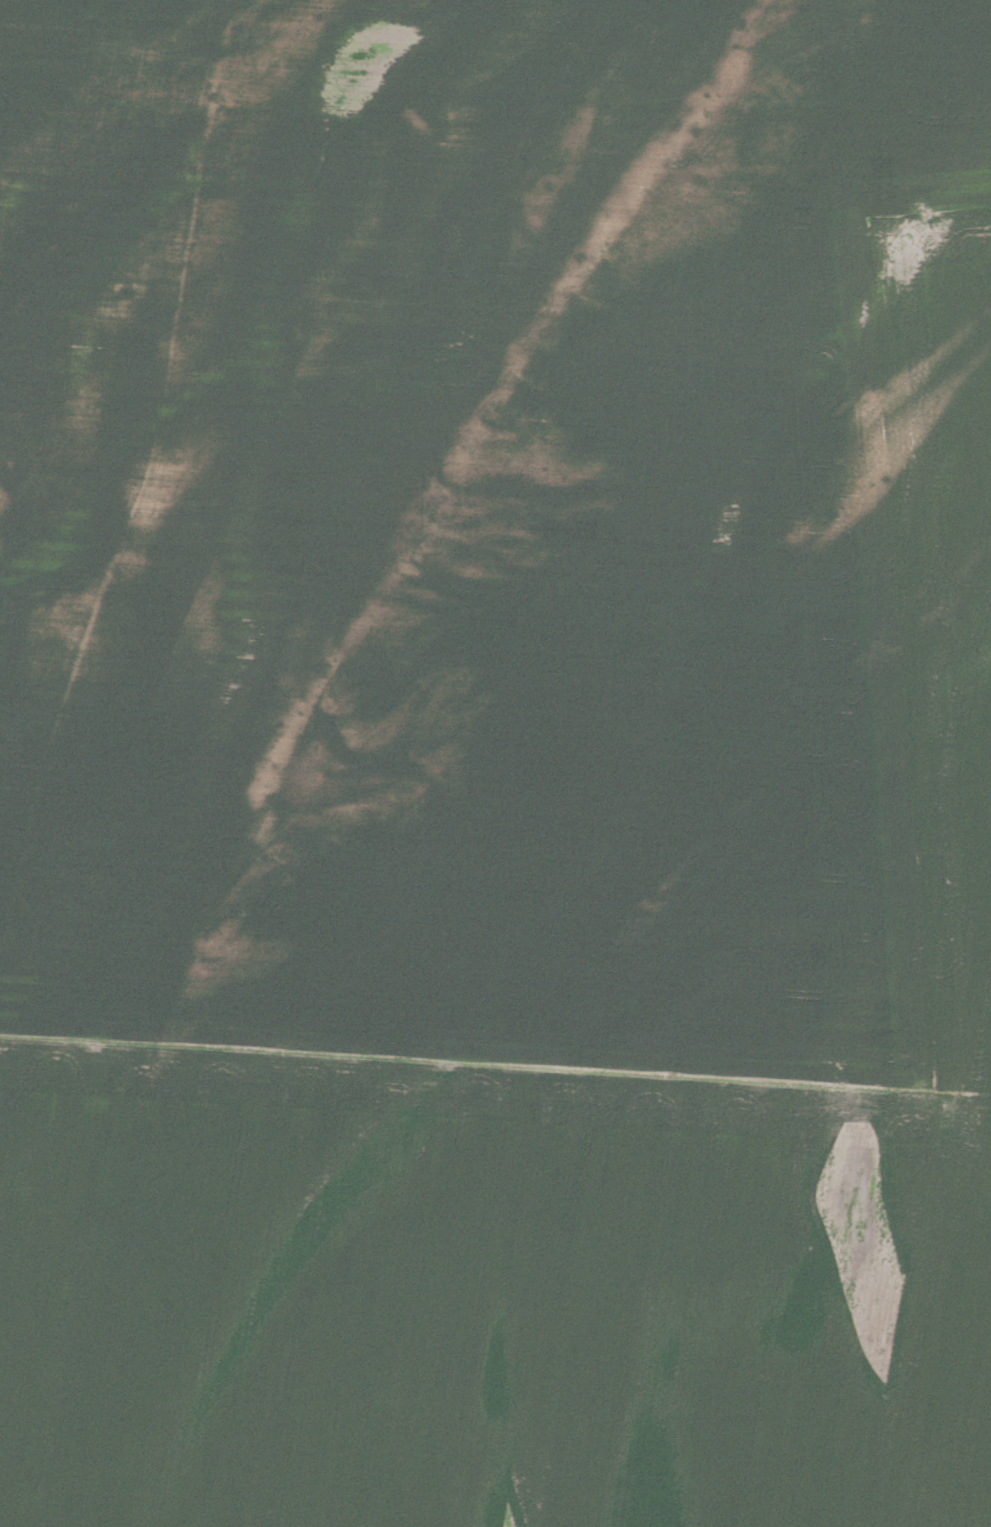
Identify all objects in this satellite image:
crop: (495, 763)

